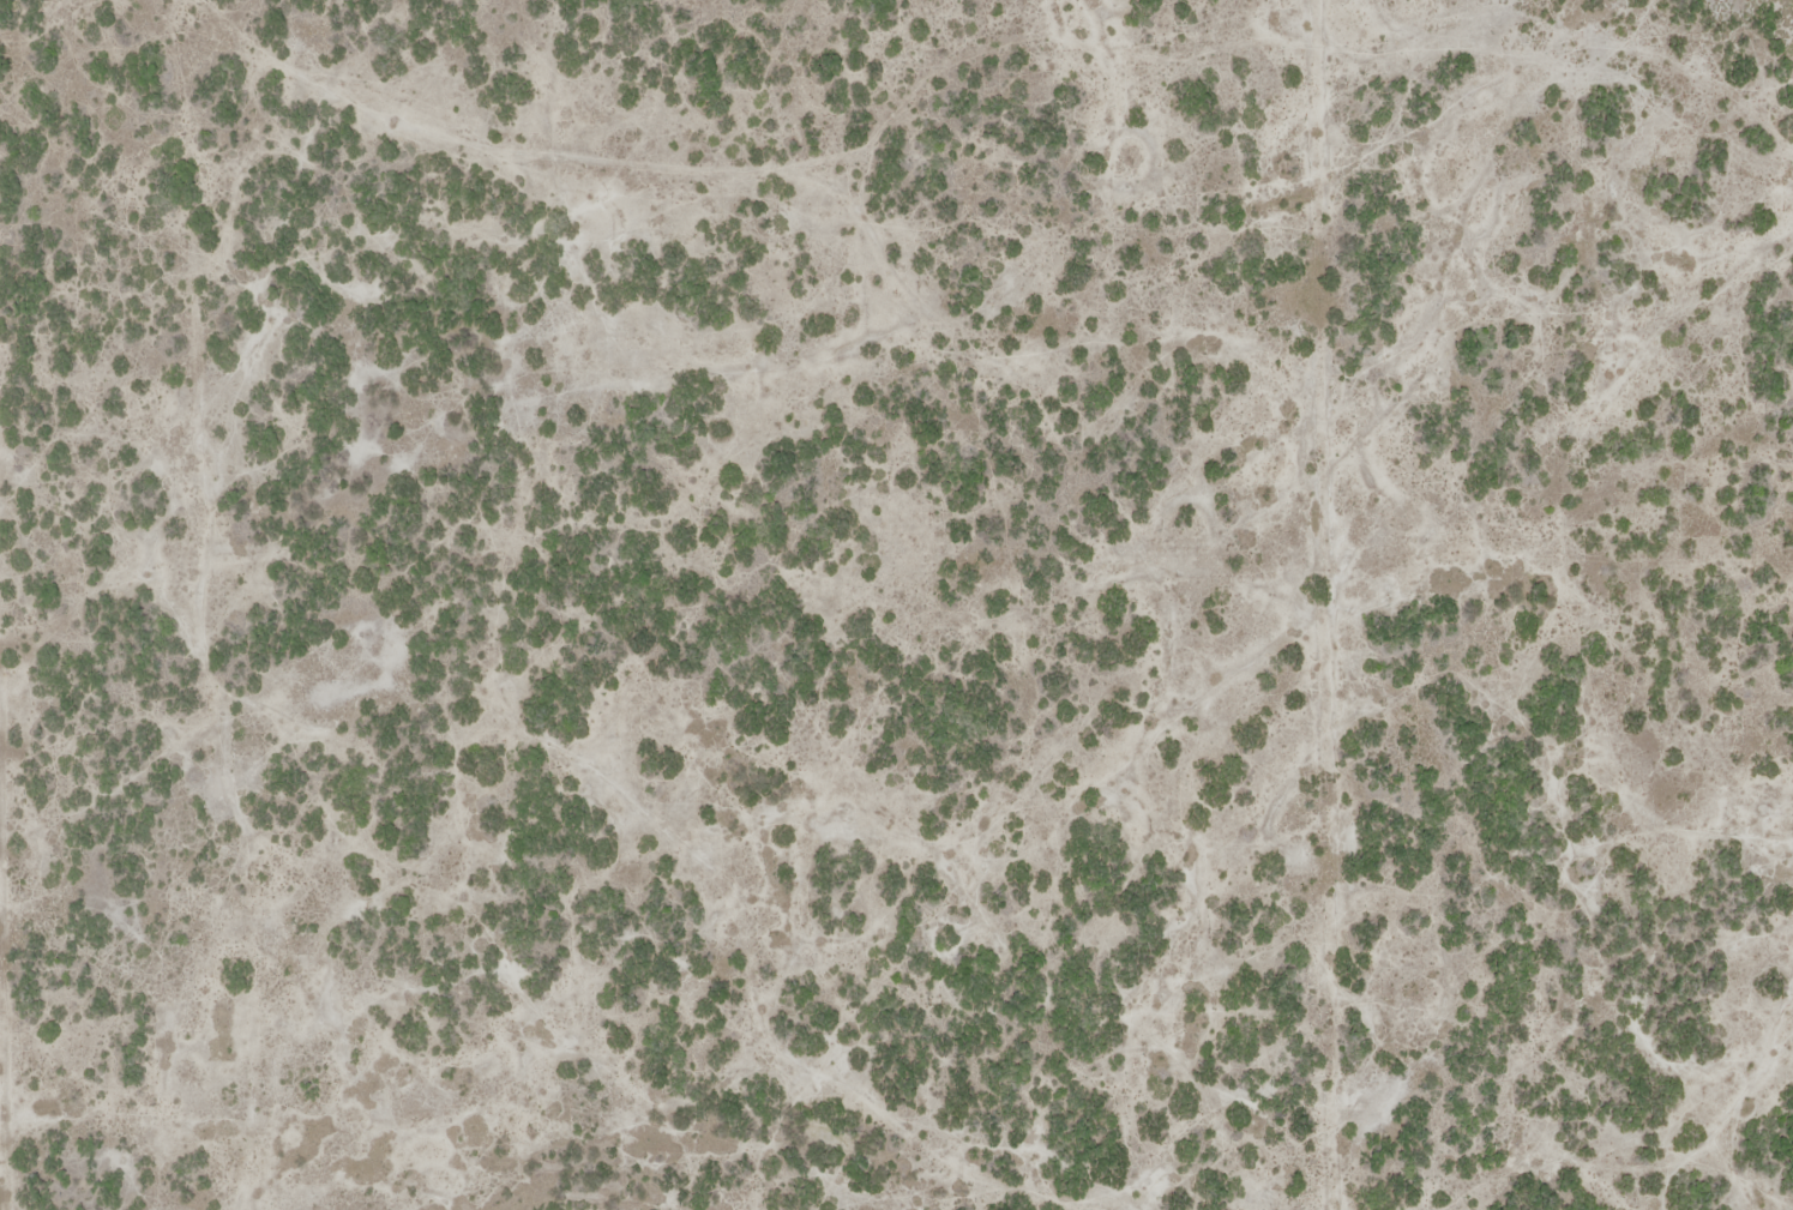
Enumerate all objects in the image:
road: (11, 640)
road: (1, 1140)

